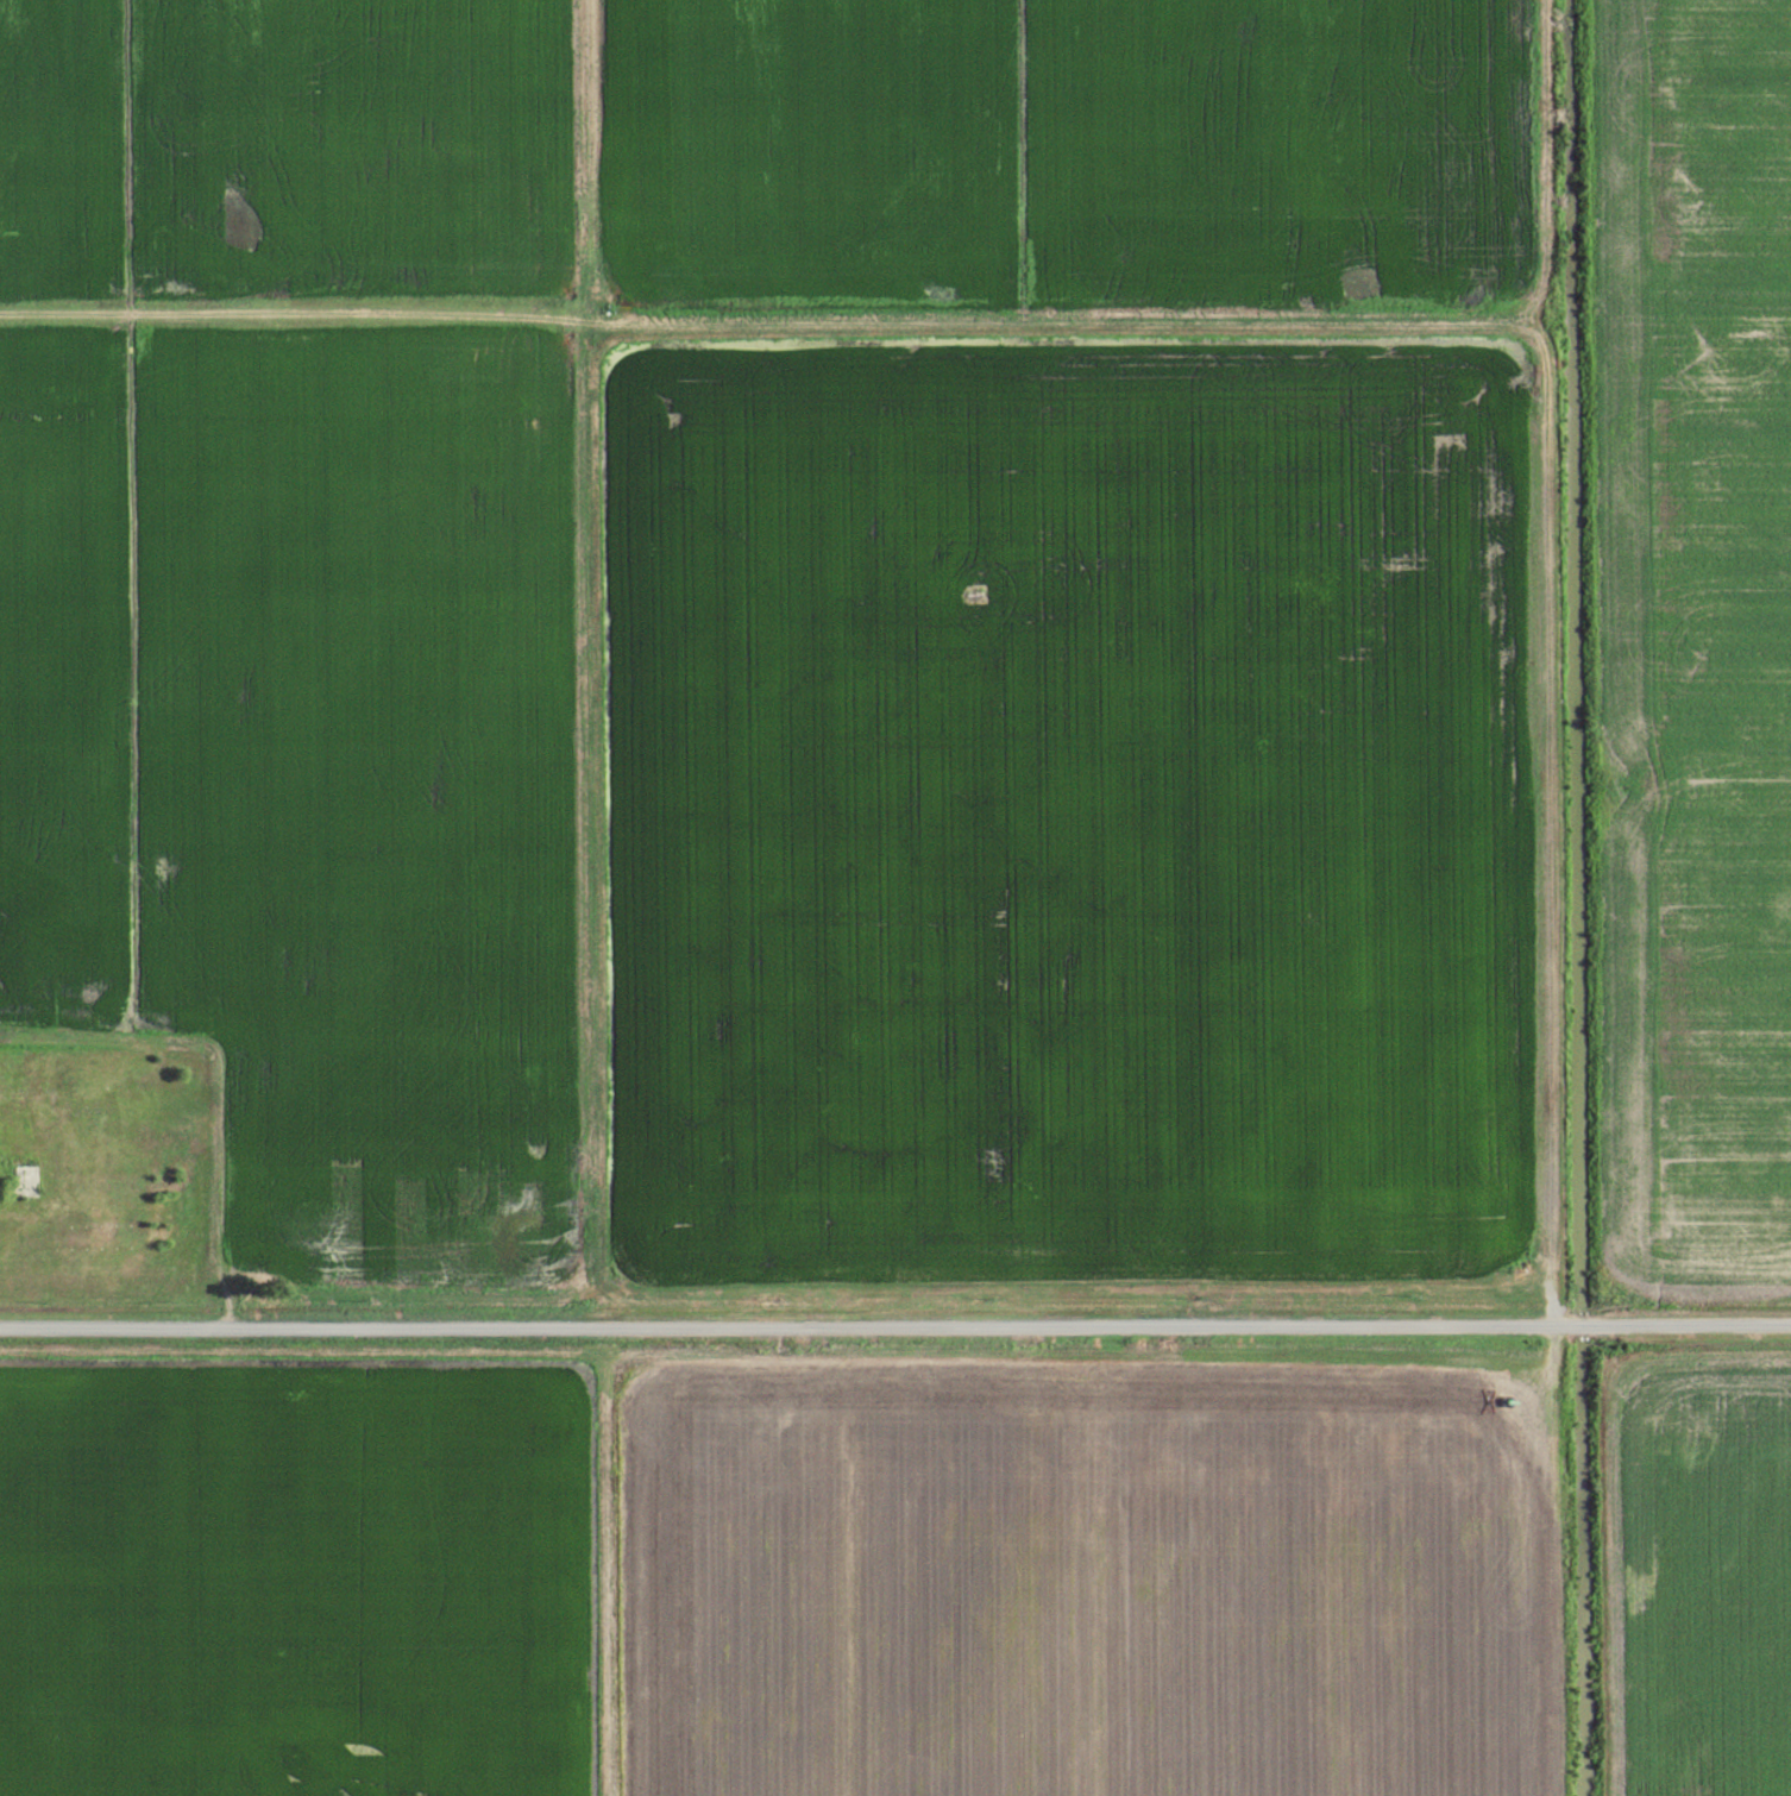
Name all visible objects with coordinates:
building: (18, 1186)
road: (895, 1323)

